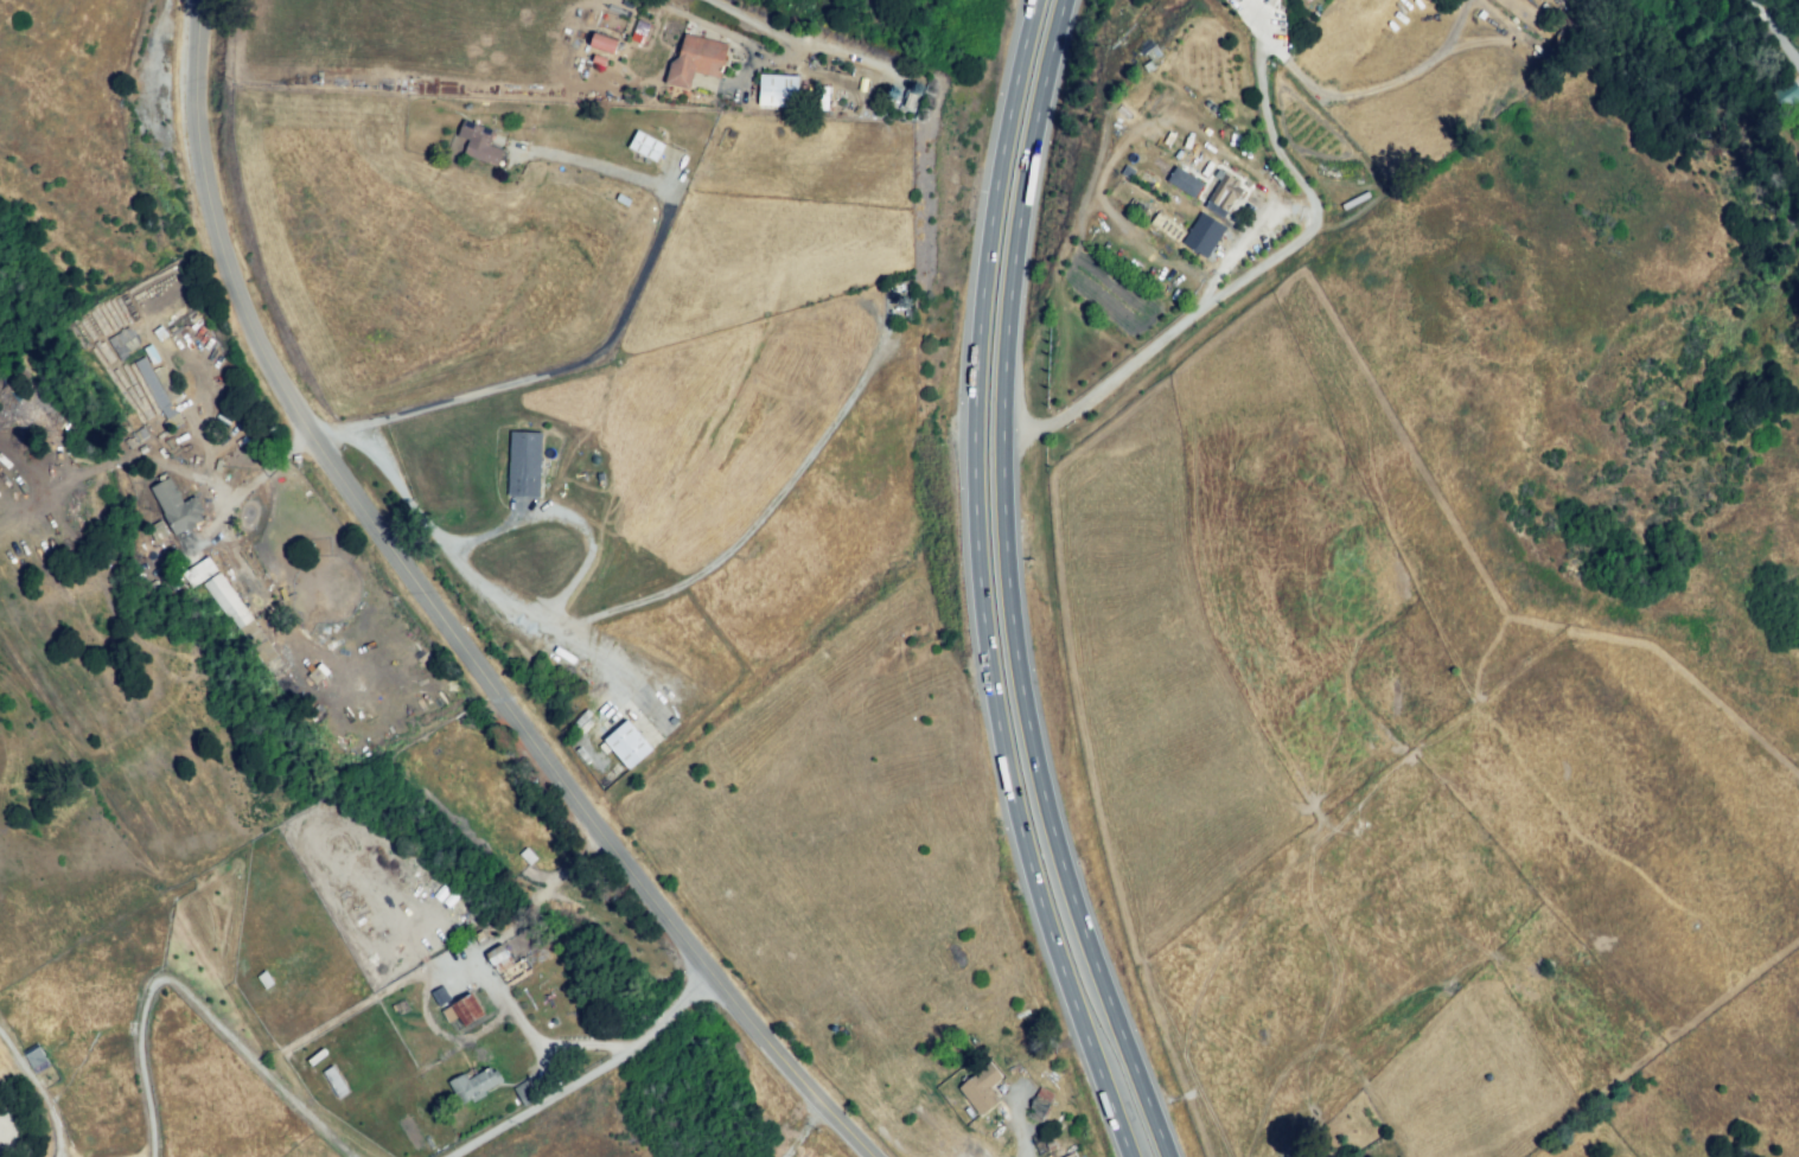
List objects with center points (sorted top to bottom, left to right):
road: (790, 36)
building: (600, 44)
building: (691, 60)
building: (1786, 92)
building: (779, 95)
building: (906, 102)
building: (1200, 117)
building: (478, 143)
building: (644, 145)
building: (1184, 181)
building: (1225, 197)
building: (1176, 203)
building: (1213, 209)
building: (1201, 234)
road: (1255, 275)
building: (894, 290)
road: (620, 320)
building: (122, 340)
road: (344, 436)
building: (523, 462)
road: (268, 473)
building: (177, 507)
road: (563, 518)
building: (199, 571)
road: (981, 586)
road: (1012, 587)
road: (644, 601)
building: (225, 602)
road: (449, 618)
building: (625, 742)
building: (528, 856)
building: (480, 940)
building: (499, 958)
building: (513, 971)
building: (264, 979)
building: (439, 996)
road: (193, 1005)
building: (461, 1012)
building: (32, 1060)
building: (337, 1080)
road: (581, 1082)
building: (471, 1085)
building: (982, 1092)
building: (523, 1093)
road: (34, 1099)
road: (803, 1129)
road: (1017, 1132)

